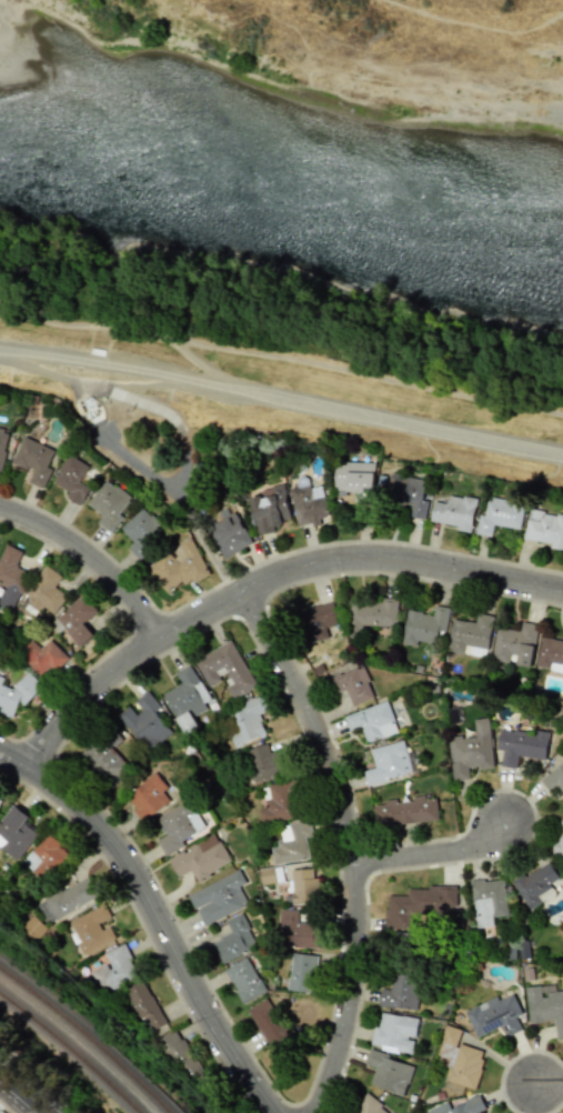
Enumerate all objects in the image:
river: (280, 204)
road: (89, 319)
road: (213, 363)
road: (370, 375)
road: (282, 394)
building: (2, 443)
building: (33, 460)
building: (71, 479)
building: (354, 480)
building: (408, 493)
building: (108, 503)
building: (306, 504)
building: (269, 509)
building: (453, 511)
building: (499, 515)
building: (543, 528)
building: (141, 531)
building: (229, 534)
road: (90, 555)
building: (178, 565)
building: (11, 572)
road: (261, 576)
building: (43, 591)
building: (371, 613)
building: (76, 620)
building: (318, 621)
building: (423, 625)
building: (470, 635)
building: (514, 643)
building: (550, 654)
building: (40, 656)
building: (224, 669)
building: (0, 679)
building: (352, 684)
building: (18, 694)
building: (185, 698)
building: (245, 720)
building: (144, 721)
building: (372, 721)
building: (520, 745)
building: (470, 750)
road: (12, 758)
building: (103, 760)
building: (267, 762)
building: (388, 762)
building: (553, 778)
building: (0, 796)
building: (148, 796)
building: (280, 802)
building: (405, 811)
building: (177, 825)
building: (14, 832)
building: (559, 839)
road: (349, 841)
building: (291, 842)
road: (433, 854)
building: (48, 856)
building: (200, 858)
building: (270, 875)
building: (535, 884)
building: (303, 885)
building: (218, 896)
building: (67, 898)
building: (487, 900)
building: (418, 904)
road: (162, 927)
building: (31, 929)
building: (90, 930)
building: (295, 930)
building: (233, 939)
building: (113, 969)
building: (301, 972)
building: (244, 980)
building: (400, 992)
building: (142, 1006)
building: (545, 1006)
building: (494, 1015)
building: (268, 1024)
building: (394, 1031)
railway: (94, 1032)
railway: (88, 1036)
building: (448, 1042)
railway: (74, 1050)
building: (180, 1054)
building: (465, 1065)
building: (388, 1073)
road: (550, 1087)
road: (21, 1094)
building: (370, 1106)
building: (459, 1106)

